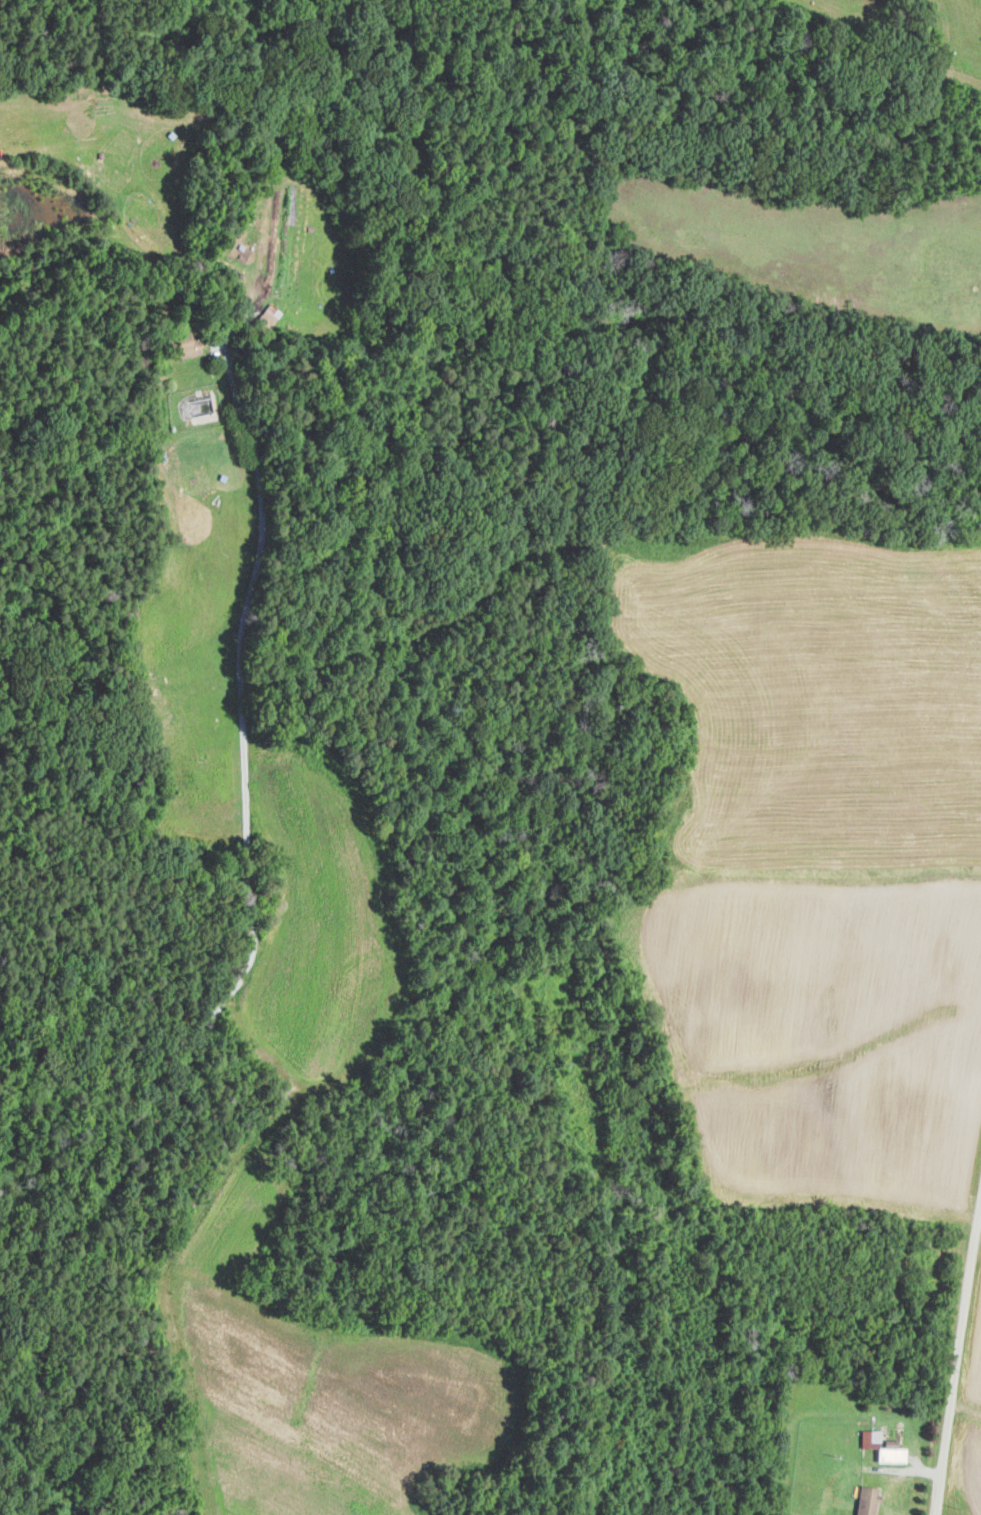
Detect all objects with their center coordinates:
building: (184, 344)
road: (246, 846)
road: (957, 1359)
building: (880, 1446)
building: (865, 1500)

